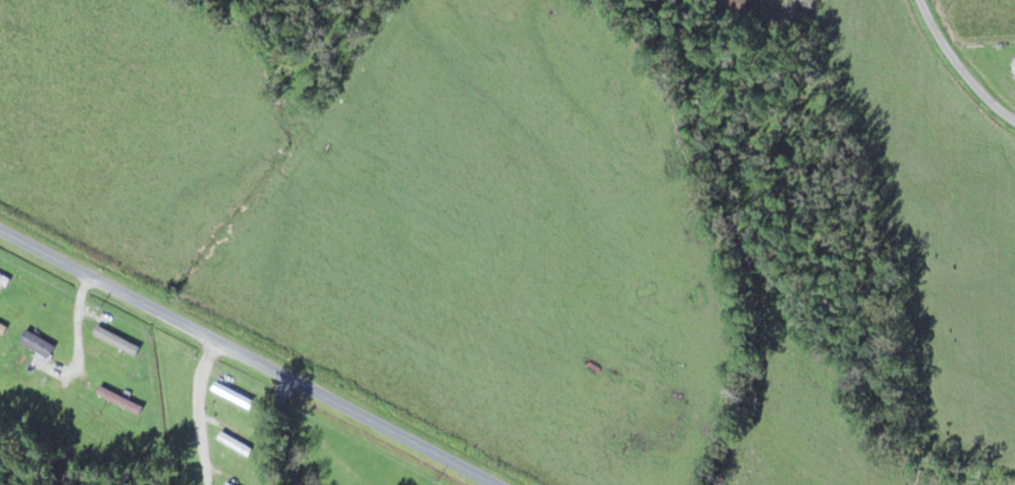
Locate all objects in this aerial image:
road: (959, 66)
building: (4, 279)
building: (3, 326)
road: (263, 349)
building: (120, 398)
building: (246, 450)

